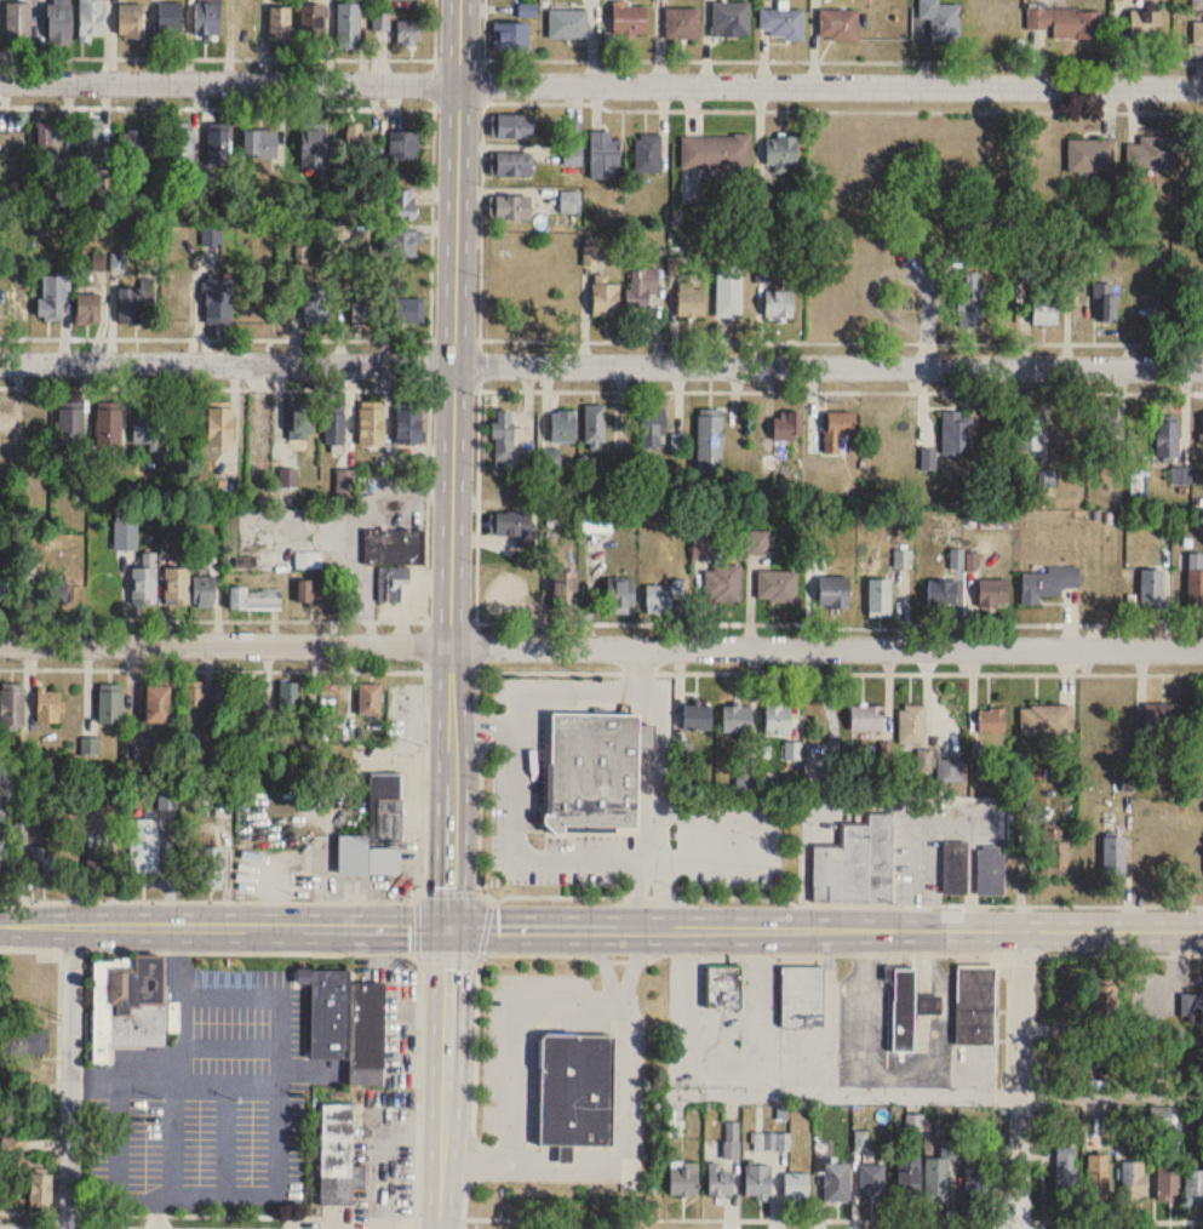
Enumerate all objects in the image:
building: (1196, 4)
building: (528, 10)
building: (167, 16)
building: (626, 16)
building: (206, 17)
building: (727, 17)
building: (939, 17)
building: (87, 18)
building: (680, 19)
building: (780, 19)
building: (130, 21)
building: (566, 21)
building: (18, 22)
building: (59, 22)
building: (1067, 22)
building: (313, 24)
building: (840, 24)
building: (1147, 24)
building: (280, 27)
building: (348, 27)
building: (1197, 30)
building: (408, 32)
building: (510, 36)
road: (270, 57)
road: (820, 59)
road: (601, 84)
road: (216, 105)
road: (841, 109)
building: (511, 126)
building: (92, 141)
building: (50, 142)
building: (359, 143)
building: (134, 144)
building: (259, 144)
building: (573, 144)
building: (403, 147)
building: (184, 148)
building: (218, 148)
building: (314, 149)
building: (714, 150)
building: (1157, 150)
building: (783, 152)
building: (648, 153)
building: (605, 155)
building: (1090, 156)
building: (511, 164)
building: (571, 201)
building: (402, 204)
building: (510, 207)
road: (480, 219)
road: (430, 222)
building: (402, 244)
building: (642, 287)
building: (728, 291)
building: (53, 298)
building: (605, 298)
building: (691, 299)
building: (969, 299)
building: (18, 301)
building: (218, 302)
building: (182, 303)
building: (1106, 303)
building: (363, 304)
building: (131, 305)
building: (778, 305)
building: (1043, 305)
building: (88, 308)
building: (315, 308)
building: (1201, 309)
building: (407, 310)
road: (699, 338)
road: (429, 362)
road: (601, 364)
road: (841, 389)
building: (300, 422)
building: (148, 424)
building: (372, 424)
building: (595, 424)
building: (6, 425)
building: (334, 427)
building: (408, 427)
building: (563, 427)
building: (653, 427)
building: (1104, 427)
building: (218, 428)
building: (70, 429)
building: (1031, 431)
building: (840, 433)
building: (957, 433)
building: (110, 435)
building: (504, 435)
building: (1168, 440)
building: (710, 441)
road: (451, 463)
building: (1181, 475)
building: (290, 479)
road: (426, 503)
building: (596, 521)
building: (514, 527)
building: (125, 535)
building: (400, 547)
building: (904, 559)
building: (145, 581)
building: (1195, 583)
building: (722, 584)
building: (1047, 584)
building: (394, 585)
building: (177, 587)
building: (778, 587)
building: (5, 590)
building: (1152, 590)
building: (204, 591)
building: (565, 591)
building: (993, 593)
building: (835, 594)
building: (943, 594)
building: (314, 595)
building: (620, 596)
building: (508, 598)
building: (663, 598)
building: (880, 599)
building: (56, 600)
building: (254, 600)
road: (425, 644)
road: (475, 646)
road: (601, 646)
building: (334, 699)
building: (370, 701)
building: (194, 703)
building: (223, 704)
building: (254, 704)
building: (109, 705)
building: (156, 705)
building: (47, 707)
building: (290, 708)
building: (11, 709)
building: (697, 718)
building: (866, 719)
building: (1164, 719)
building: (737, 720)
building: (778, 720)
building: (992, 721)
building: (1047, 721)
building: (913, 725)
road: (483, 727)
building: (1202, 728)
road: (661, 764)
building: (950, 771)
building: (594, 774)
road: (506, 808)
building: (378, 831)
building: (143, 846)
building: (1055, 853)
building: (1115, 857)
building: (1, 863)
building: (858, 865)
building: (211, 869)
building: (956, 869)
building: (991, 871)
road: (652, 893)
road: (485, 896)
road: (844, 903)
road: (225, 925)
traffic signals: (451, 927)
road: (826, 928)
road: (208, 950)
road: (1123, 953)
building: (18, 982)
building: (724, 987)
building: (803, 996)
road: (621, 1000)
building: (1105, 1000)
building: (131, 1004)
building: (976, 1004)
building: (1192, 1004)
building: (909, 1008)
building: (349, 1024)
road: (1162, 1030)
road: (182, 1031)
road: (508, 1054)
building: (1075, 1070)
road: (68, 1076)
road: (443, 1077)
road: (1019, 1077)
road: (1043, 1085)
building: (578, 1088)
road: (847, 1092)
road: (1089, 1094)
building: (732, 1139)
building: (772, 1141)
road: (116, 1145)
road: (630, 1145)
road: (277, 1151)
building: (338, 1155)
building: (1067, 1171)
building: (939, 1174)
building: (1098, 1176)
building: (1168, 1176)
building: (683, 1177)
building: (909, 1177)
building: (758, 1178)
building: (976, 1178)
building: (1134, 1178)
building: (23, 1179)
building: (720, 1179)
building: (837, 1181)
building: (872, 1181)
building: (1193, 1183)
building: (796, 1184)
road: (28, 1211)
road: (548, 1214)
road: (1116, 1218)

